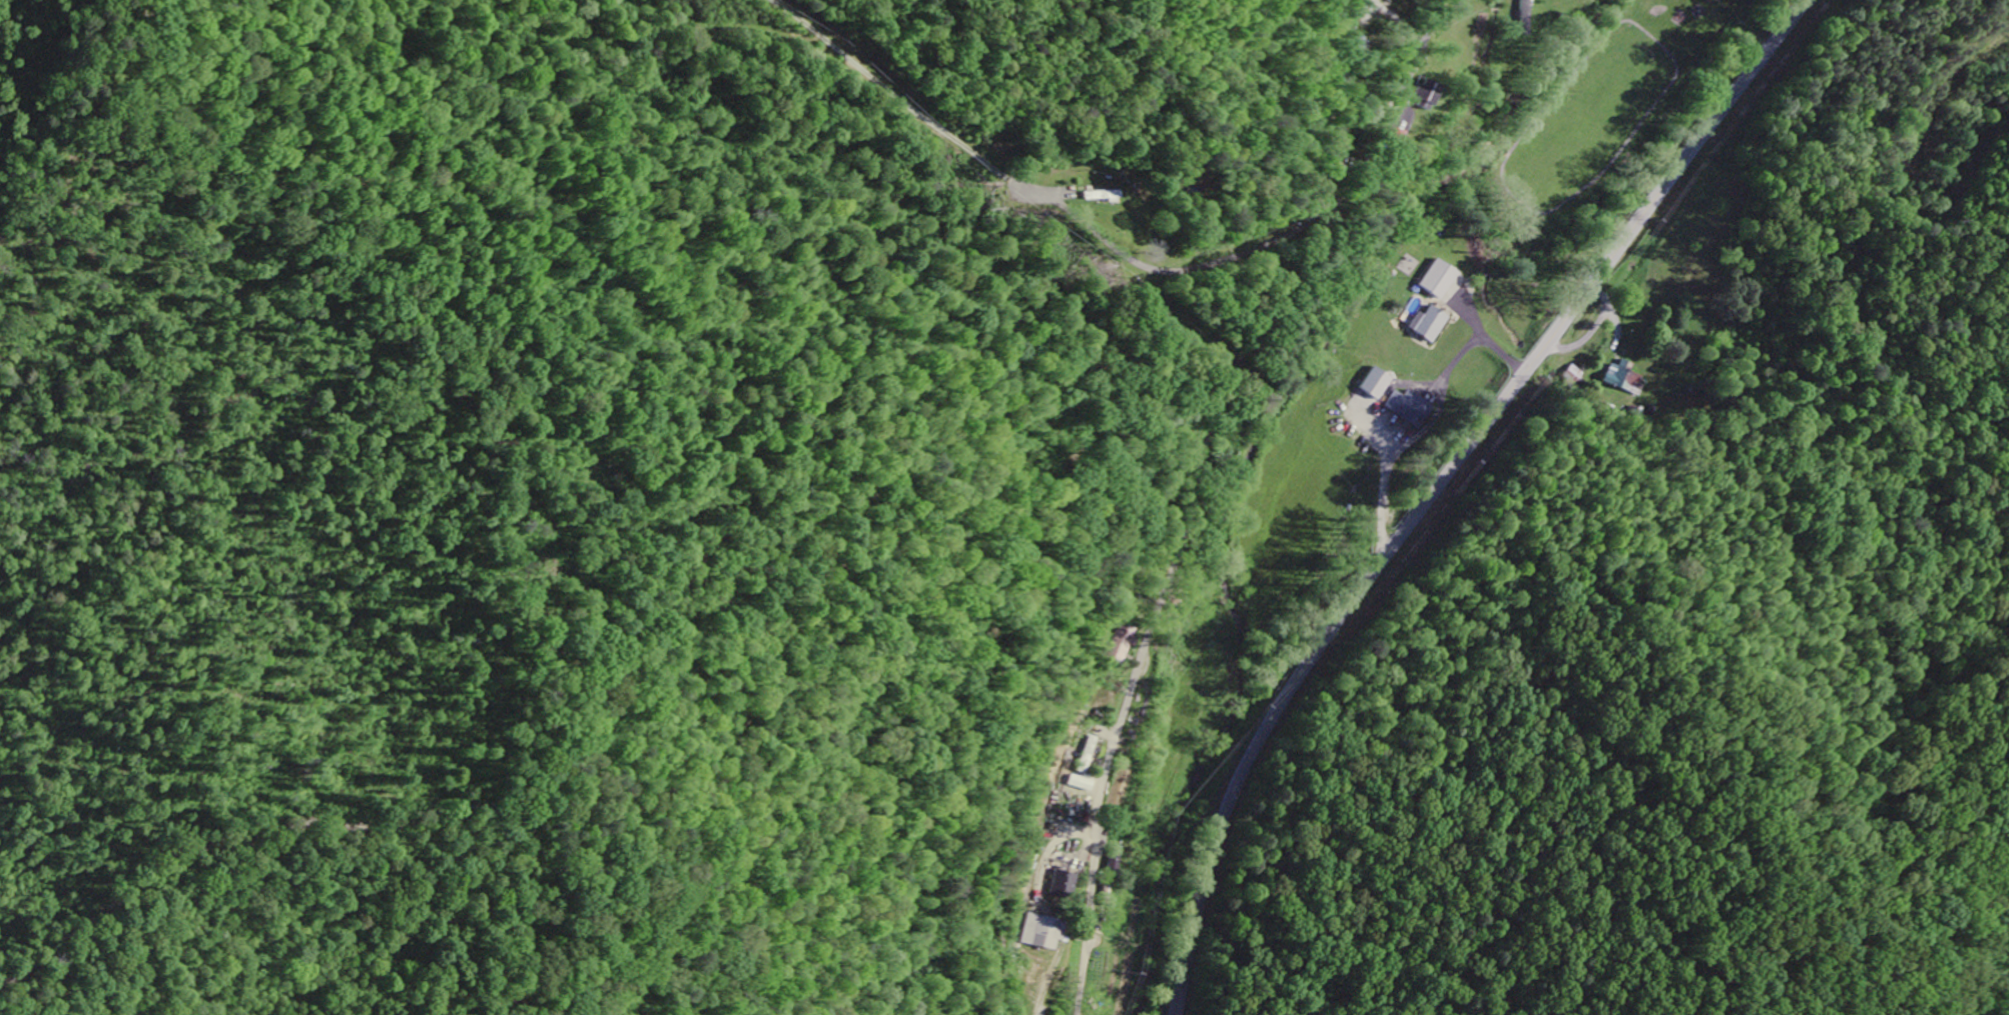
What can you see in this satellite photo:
building: (1527, 17)
building: (1428, 95)
road: (1046, 192)
building: (1439, 279)
building: (1430, 324)
building: (1625, 379)
building: (1376, 384)
building: (1411, 409)
road: (1441, 483)
road: (1194, 485)
building: (1119, 644)
road: (333, 819)
building: (1064, 885)
building: (1044, 932)

